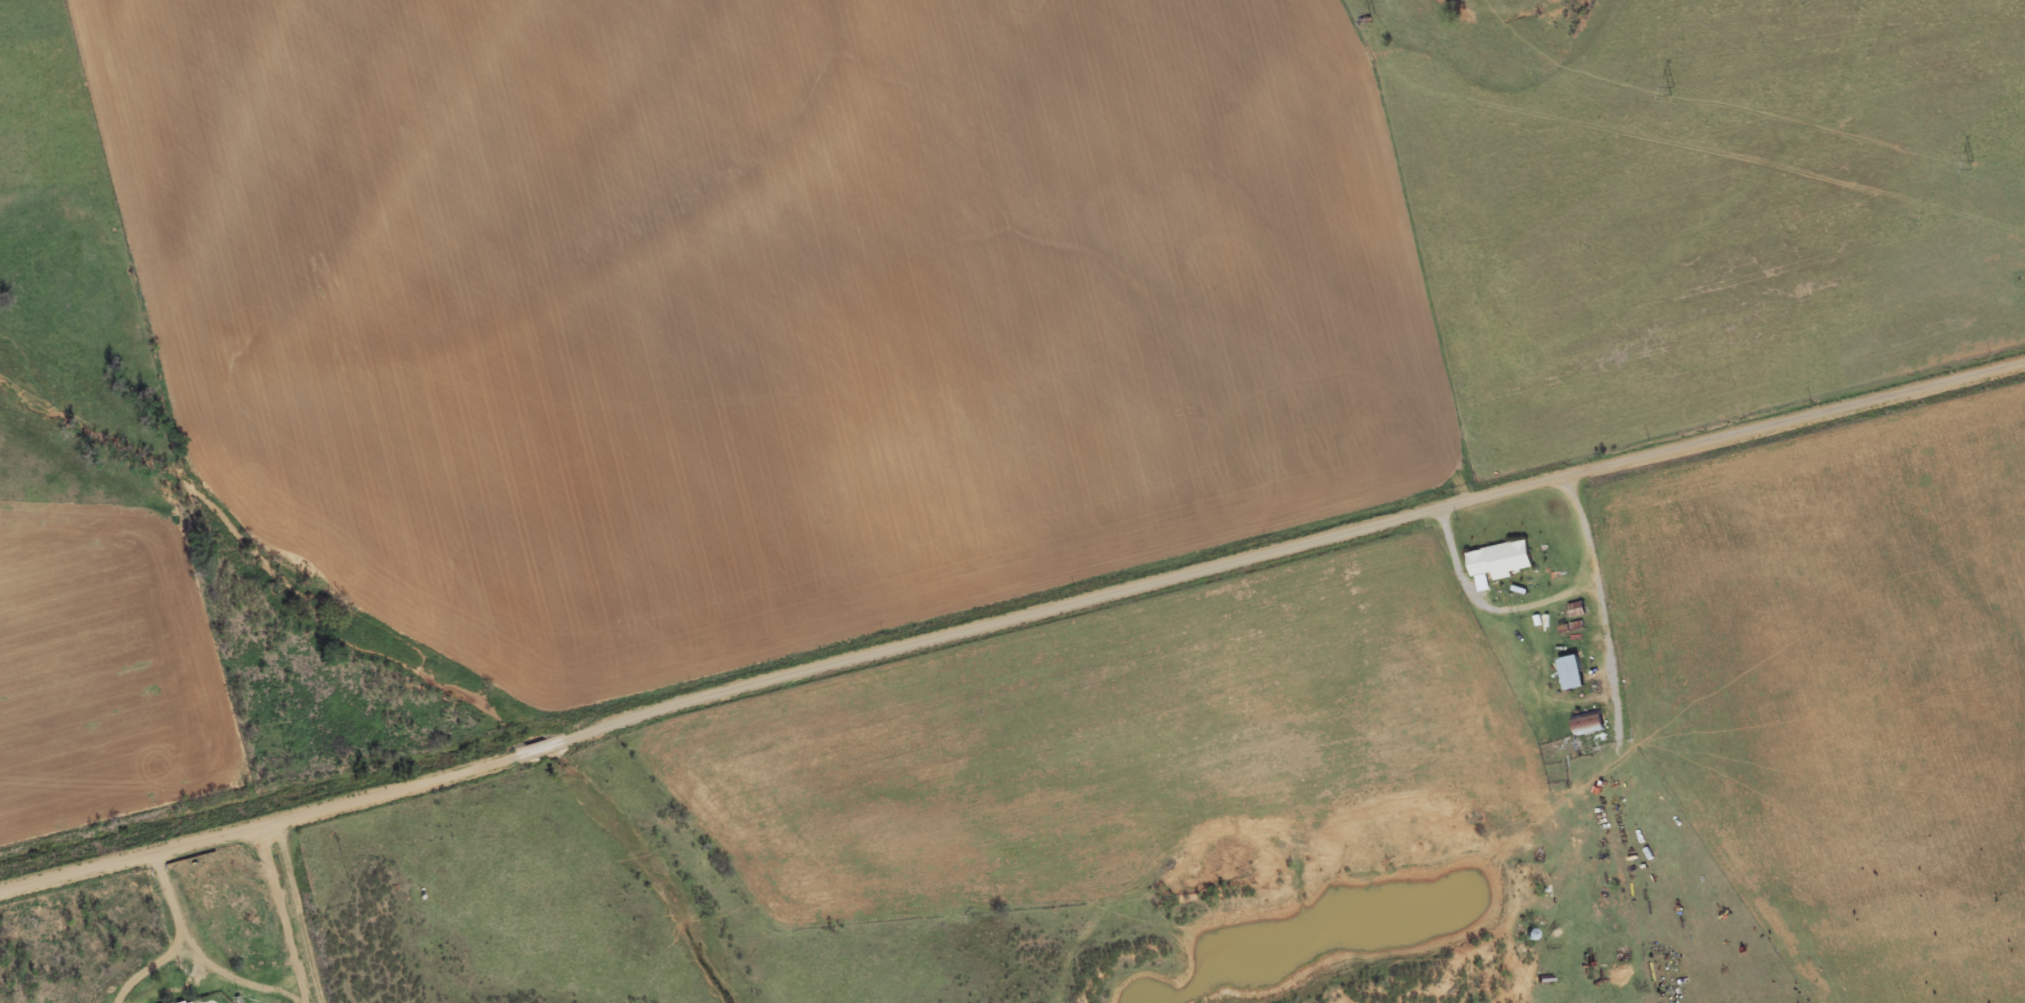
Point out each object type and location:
power tower: (1374, 17)
power tower: (1673, 90)
power tower: (1974, 164)
building: (1499, 560)
road: (1012, 619)
building: (1571, 674)
building: (1589, 723)
building: (187, 1002)

